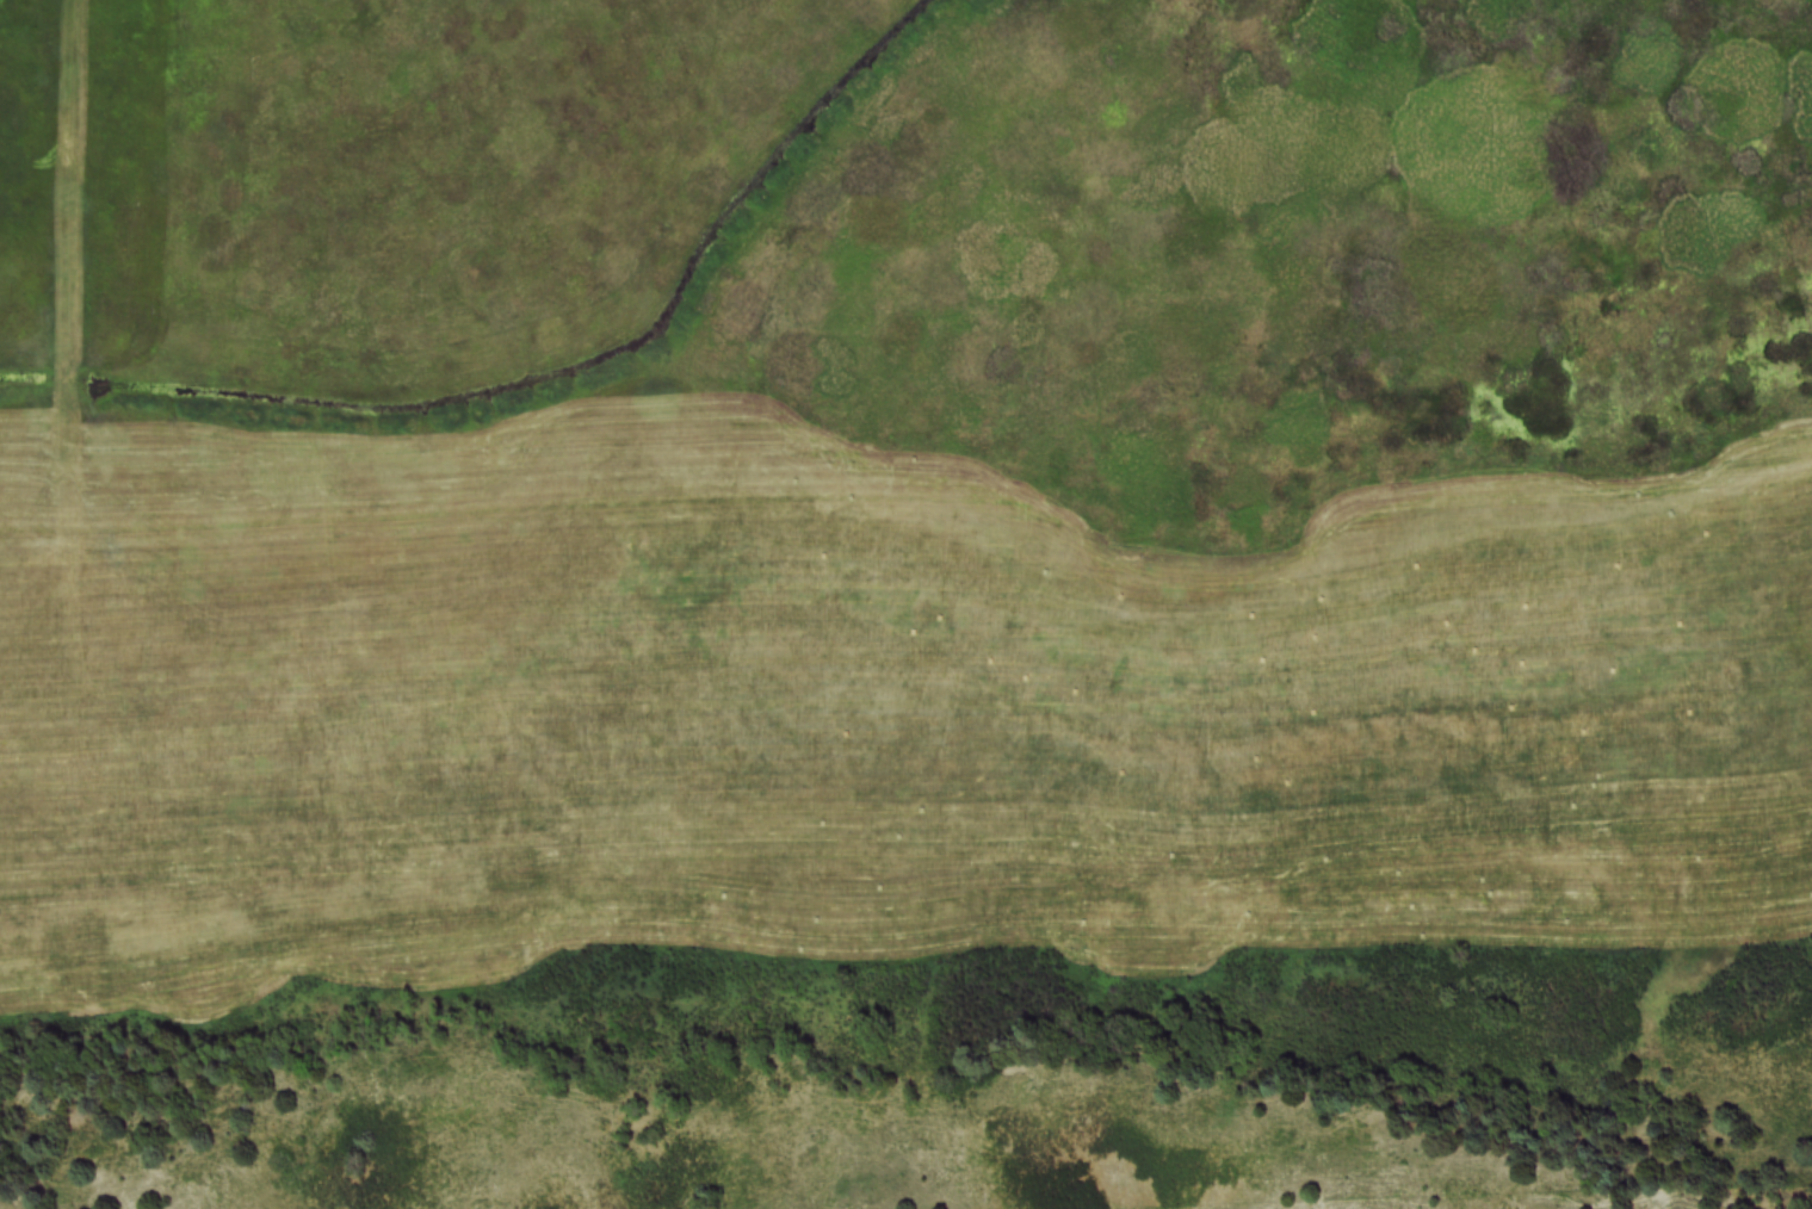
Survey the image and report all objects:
airport runway: (905, 681)

